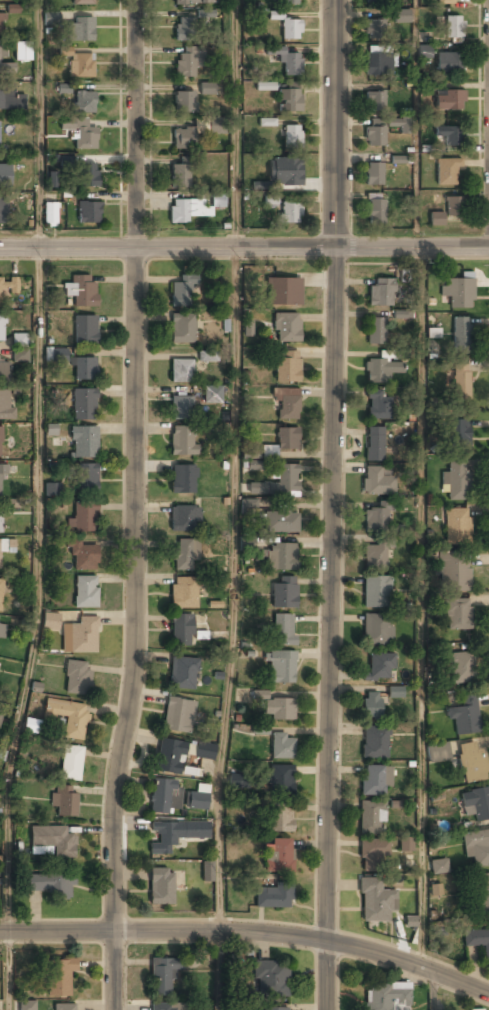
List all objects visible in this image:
building: (83, 2)
building: (192, 2)
building: (290, 2)
building: (373, 2)
building: (448, 2)
building: (13, 8)
building: (205, 13)
building: (51, 17)
building: (401, 17)
building: (1, 25)
building: (453, 27)
building: (80, 28)
building: (374, 29)
building: (188, 30)
building: (290, 30)
building: (23, 51)
building: (424, 51)
building: (187, 62)
building: (448, 63)
building: (4, 64)
building: (81, 65)
building: (290, 65)
building: (377, 65)
building: (265, 86)
building: (207, 88)
building: (289, 99)
building: (10, 100)
building: (449, 101)
building: (83, 102)
building: (183, 102)
building: (373, 102)
building: (400, 124)
road: (417, 124)
building: (216, 125)
building: (80, 132)
building: (374, 134)
building: (449, 135)
building: (291, 137)
building: (182, 139)
building: (64, 164)
building: (446, 172)
building: (286, 173)
building: (87, 175)
building: (373, 175)
building: (4, 176)
building: (179, 177)
building: (51, 179)
building: (217, 200)
building: (270, 200)
building: (453, 207)
building: (2, 210)
building: (186, 211)
building: (87, 212)
building: (374, 212)
building: (290, 213)
building: (48, 215)
building: (435, 220)
road: (244, 249)
building: (404, 275)
building: (8, 284)
building: (81, 290)
building: (283, 292)
building: (182, 293)
building: (380, 293)
building: (457, 293)
building: (402, 314)
building: (2, 328)
building: (248, 328)
building: (285, 328)
building: (182, 329)
building: (85, 330)
building: (376, 332)
building: (461, 336)
building: (20, 347)
building: (59, 354)
building: (208, 356)
building: (287, 368)
building: (83, 369)
building: (381, 371)
building: (181, 372)
building: (3, 374)
building: (461, 383)
building: (212, 395)
building: (286, 404)
building: (5, 405)
building: (83, 405)
building: (181, 407)
building: (377, 407)
building: (457, 436)
building: (287, 439)
building: (182, 441)
building: (0, 443)
building: (84, 443)
building: (374, 445)
building: (269, 452)
building: (256, 465)
building: (3, 471)
building: (183, 479)
building: (86, 480)
building: (457, 481)
building: (277, 483)
building: (376, 483)
building: (52, 489)
building: (17, 503)
road: (234, 505)
road: (333, 505)
road: (37, 506)
road: (139, 506)
building: (0, 518)
building: (83, 518)
building: (378, 518)
building: (184, 520)
building: (280, 524)
building: (457, 527)
building: (3, 545)
building: (0, 555)
building: (184, 555)
building: (82, 557)
building: (375, 557)
building: (280, 558)
building: (454, 572)
building: (85, 591)
building: (284, 592)
building: (376, 592)
building: (0, 594)
building: (183, 594)
road: (421, 612)
building: (457, 615)
building: (50, 622)
building: (2, 630)
building: (283, 630)
building: (377, 630)
building: (180, 631)
building: (80, 636)
building: (380, 665)
building: (281, 668)
building: (460, 668)
building: (182, 674)
building: (76, 679)
building: (395, 692)
building: (370, 706)
building: (279, 709)
building: (178, 716)
building: (465, 717)
building: (67, 718)
building: (31, 725)
building: (260, 729)
building: (375, 743)
building: (281, 747)
building: (204, 750)
building: (438, 752)
building: (170, 757)
building: (471, 763)
building: (71, 764)
building: (238, 780)
building: (279, 780)
building: (372, 781)
building: (165, 796)
building: (64, 801)
building: (476, 804)
building: (280, 818)
building: (370, 818)
building: (174, 835)
building: (53, 841)
building: (406, 844)
building: (476, 848)
building: (372, 854)
building: (278, 856)
building: (438, 867)
building: (48, 884)
building: (160, 887)
building: (436, 892)
building: (481, 894)
building: (273, 897)
building: (375, 902)
road: (248, 938)
building: (477, 941)
building: (162, 978)
building: (271, 978)
building: (60, 979)
road: (434, 993)
building: (386, 998)
building: (27, 1005)
building: (64, 1007)
building: (164, 1007)
building: (274, 1009)

